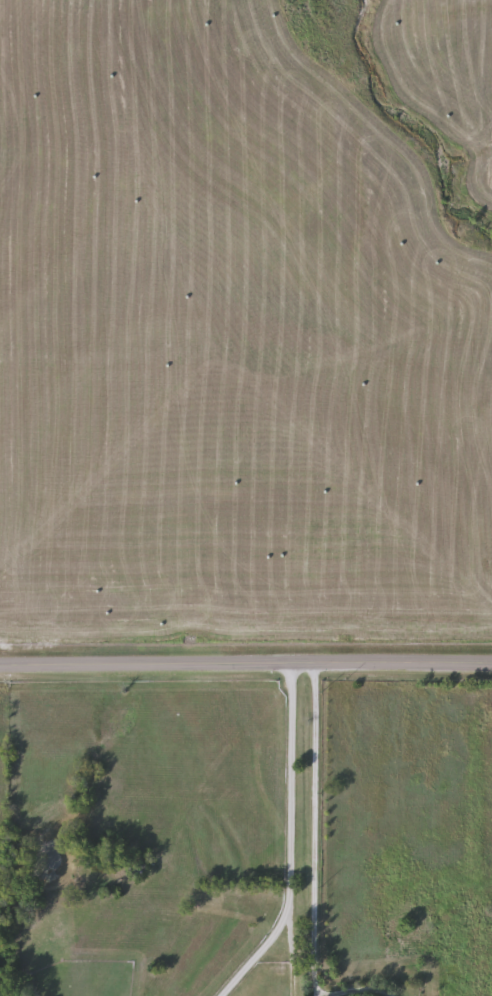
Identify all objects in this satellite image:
road: (246, 661)
road: (311, 828)
road: (285, 840)
road: (358, 991)
road: (309, 994)
road: (316, 994)

